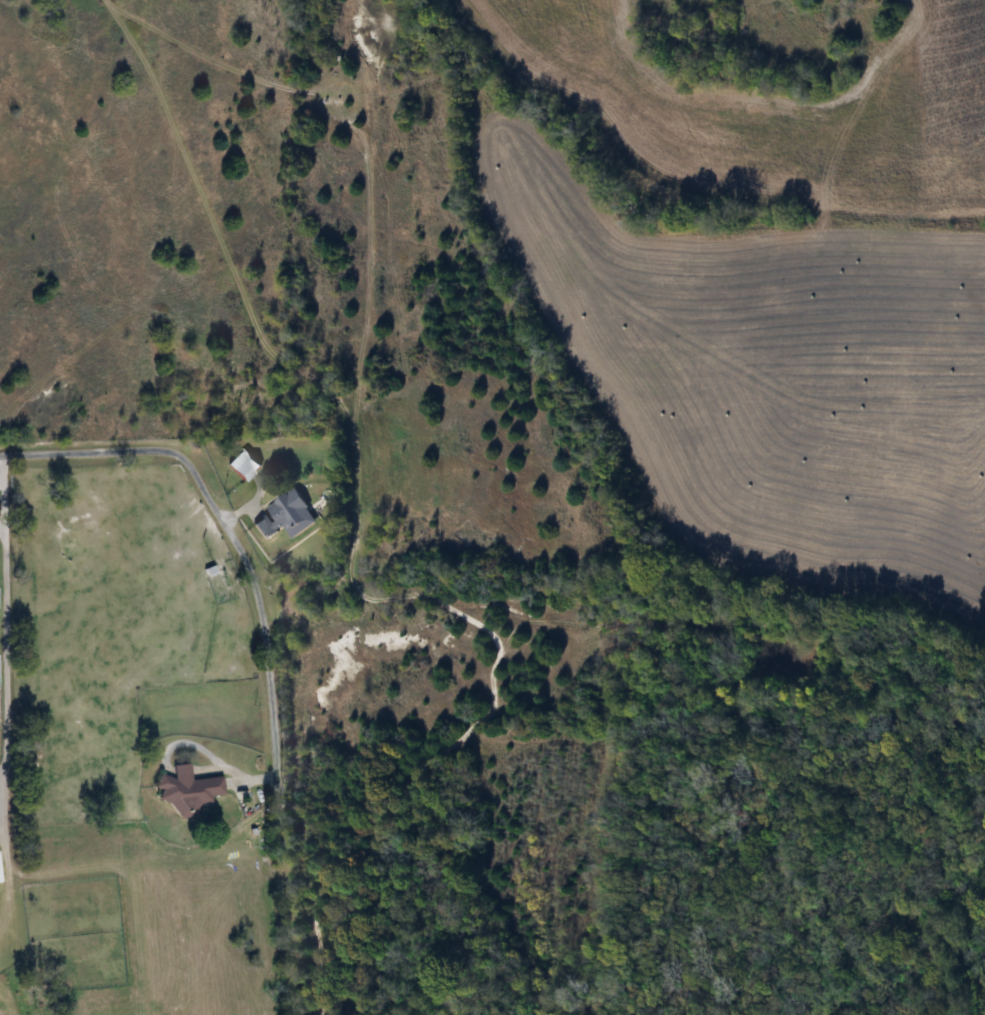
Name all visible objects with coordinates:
building: (241, 467)
building: (282, 517)
road: (265, 634)
road: (6, 638)
building: (185, 791)

